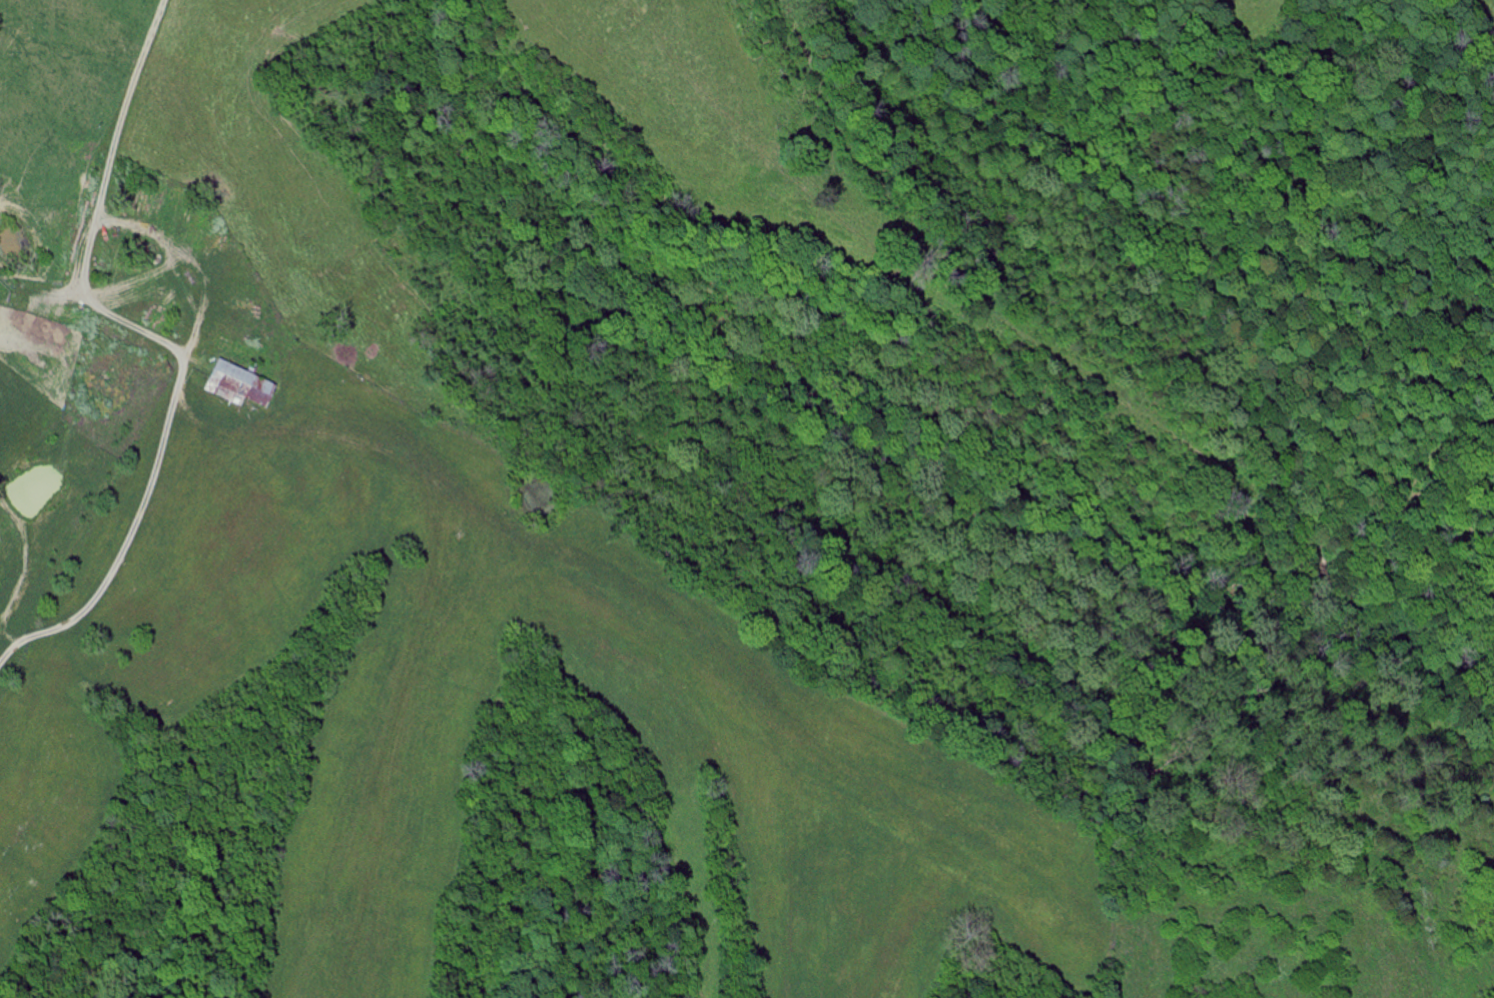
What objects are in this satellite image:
road: (118, 144)
building: (0, 269)
building: (245, 386)

